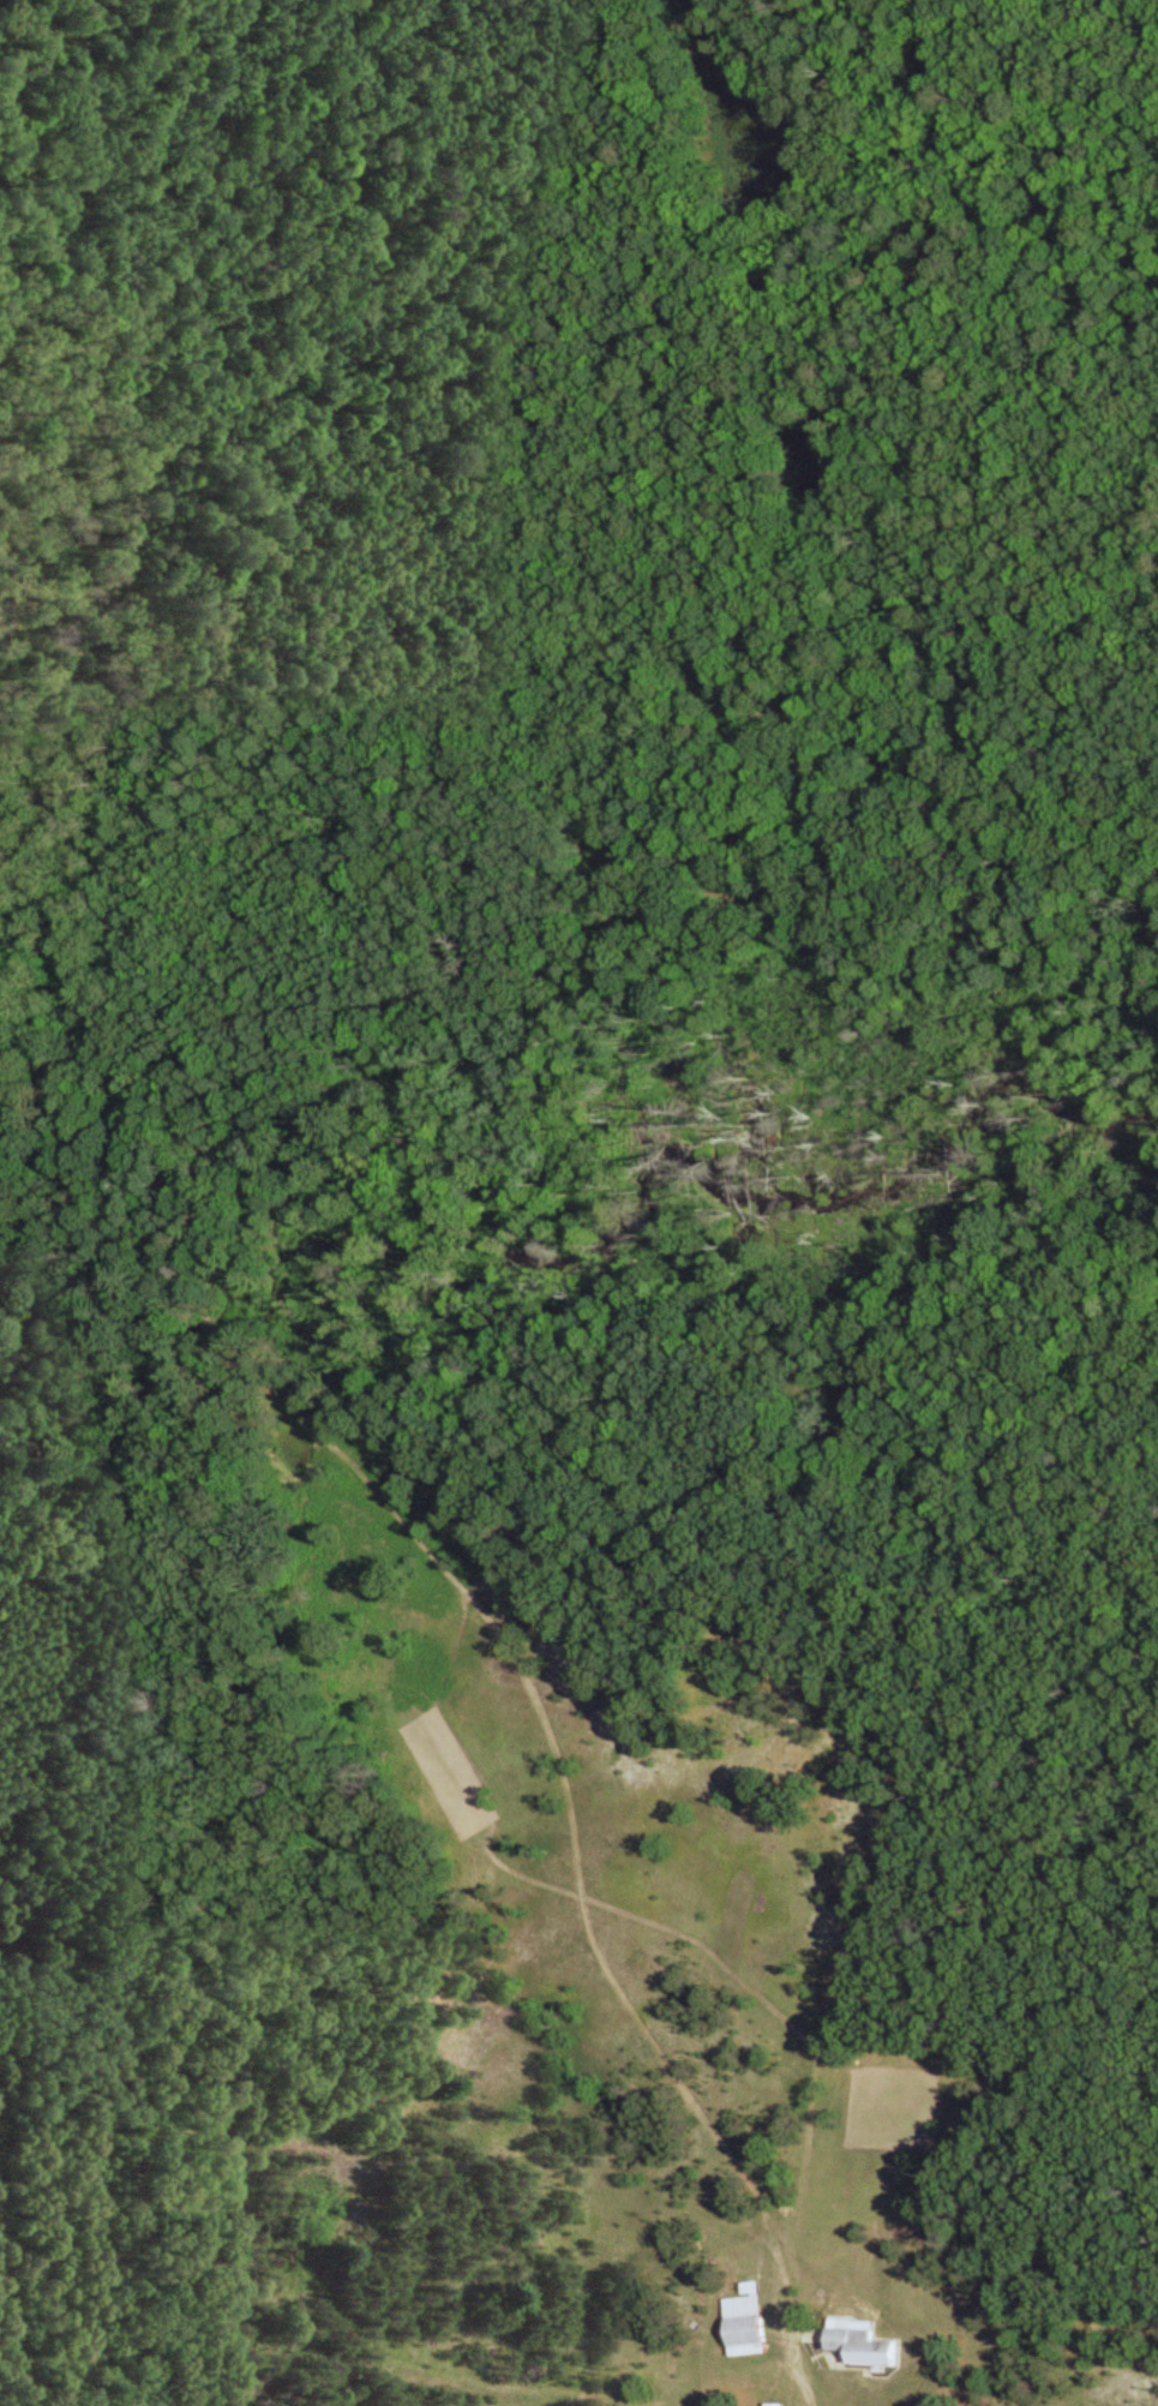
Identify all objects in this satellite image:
building: (750, 2323)
building: (866, 2340)

